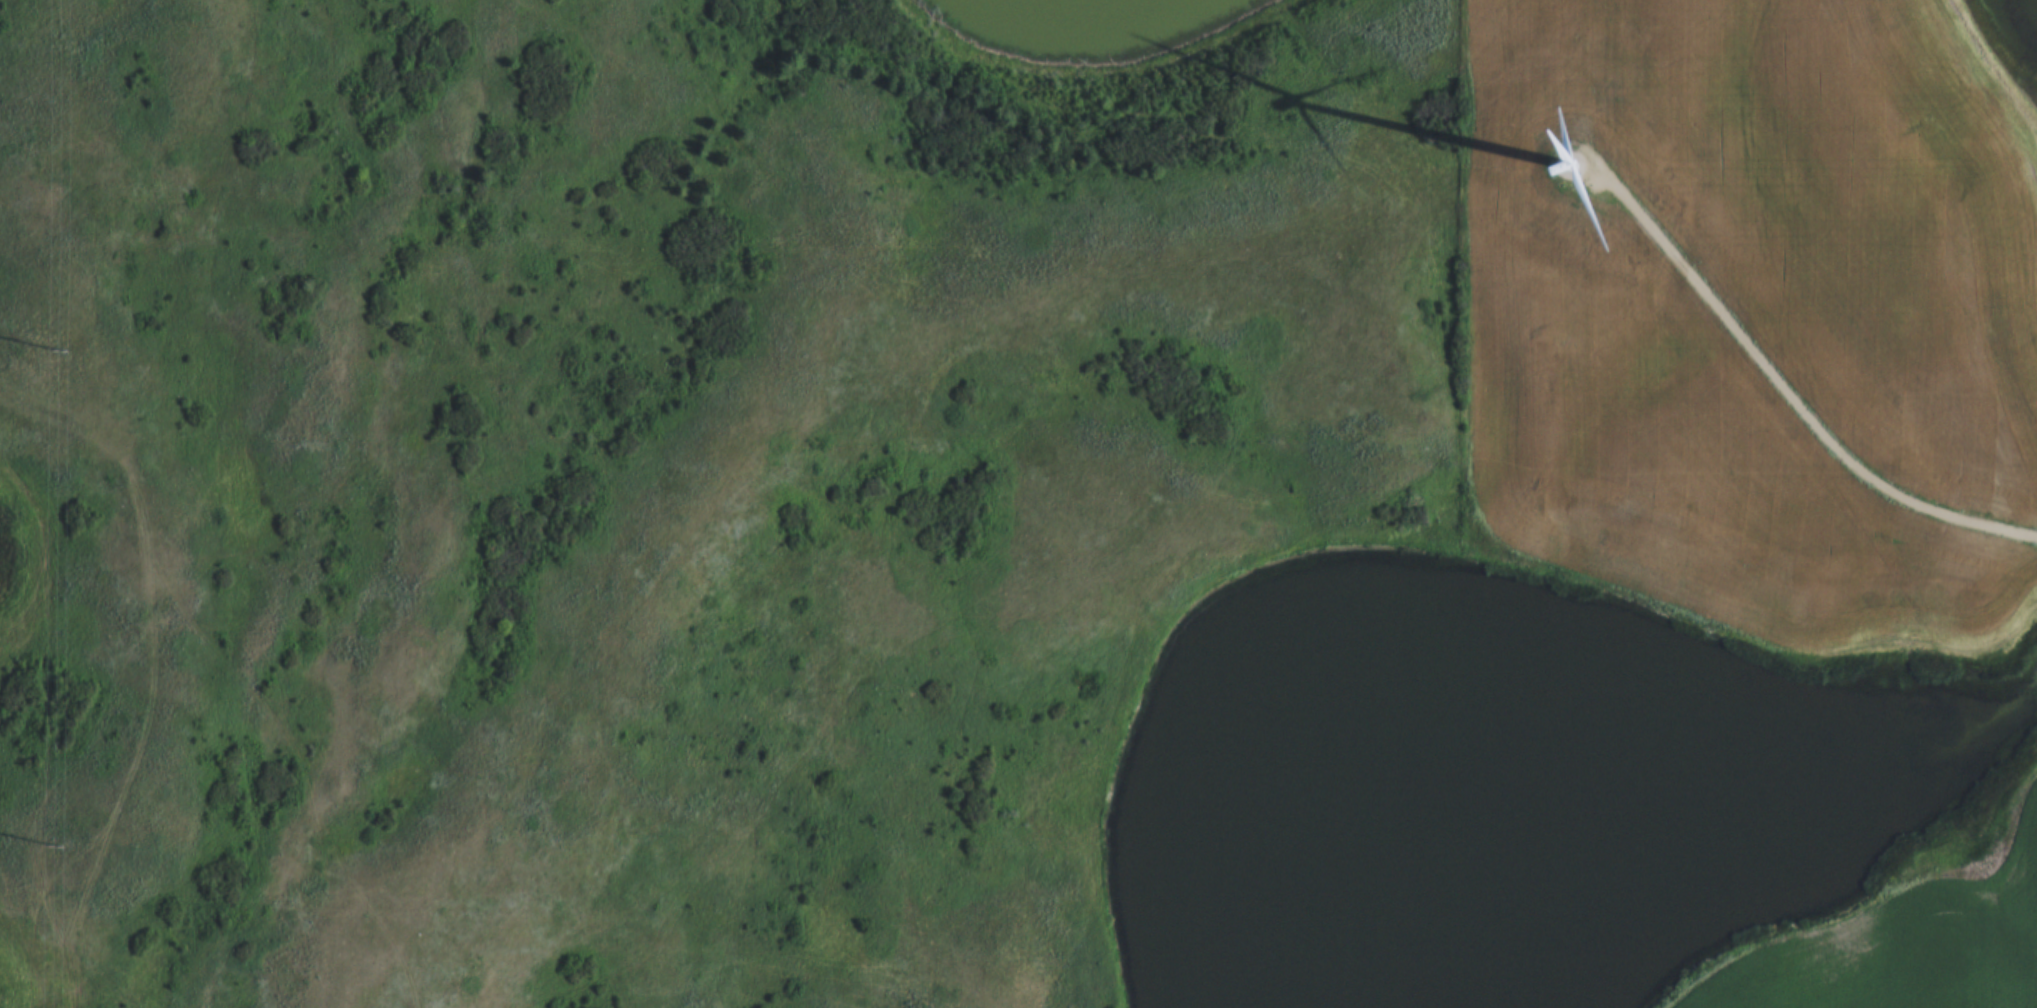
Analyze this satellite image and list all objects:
wind turbine: (1571, 169)
road: (1793, 405)

